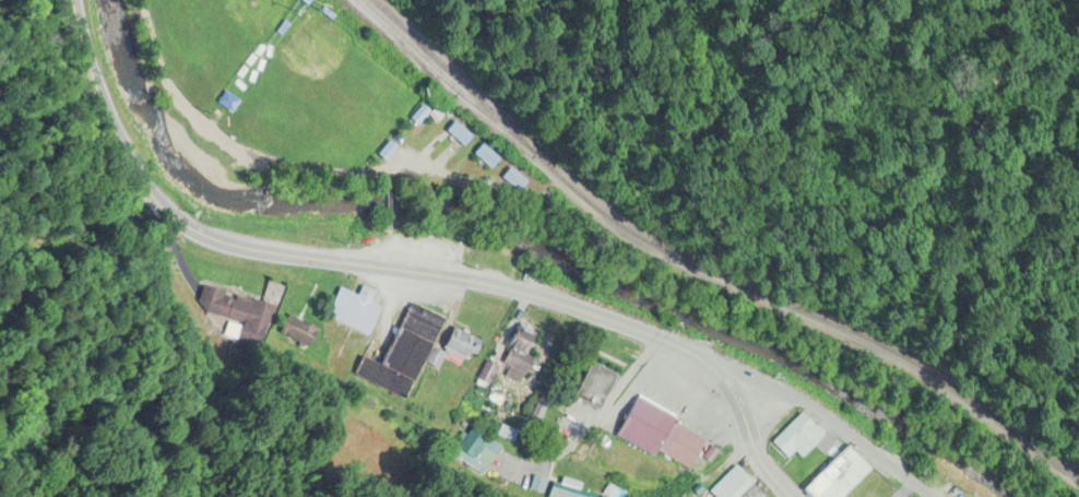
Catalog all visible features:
park: (213, 42)
park: (321, 97)
building: (453, 131)
building: (482, 157)
building: (511, 181)
road: (390, 209)
river: (523, 245)
road: (324, 260)
railway: (702, 269)
building: (236, 303)
building: (354, 309)
building: (298, 331)
building: (522, 338)
building: (458, 343)
building: (403, 352)
building: (517, 362)
building: (487, 372)
building: (595, 384)
road: (595, 419)
road: (825, 419)
building: (644, 424)
building: (793, 433)
road: (747, 434)
building: (810, 440)
building: (680, 445)
building: (474, 448)
building: (653, 475)
building: (834, 475)
building: (537, 484)
building: (730, 484)
building: (568, 488)
building: (752, 492)

